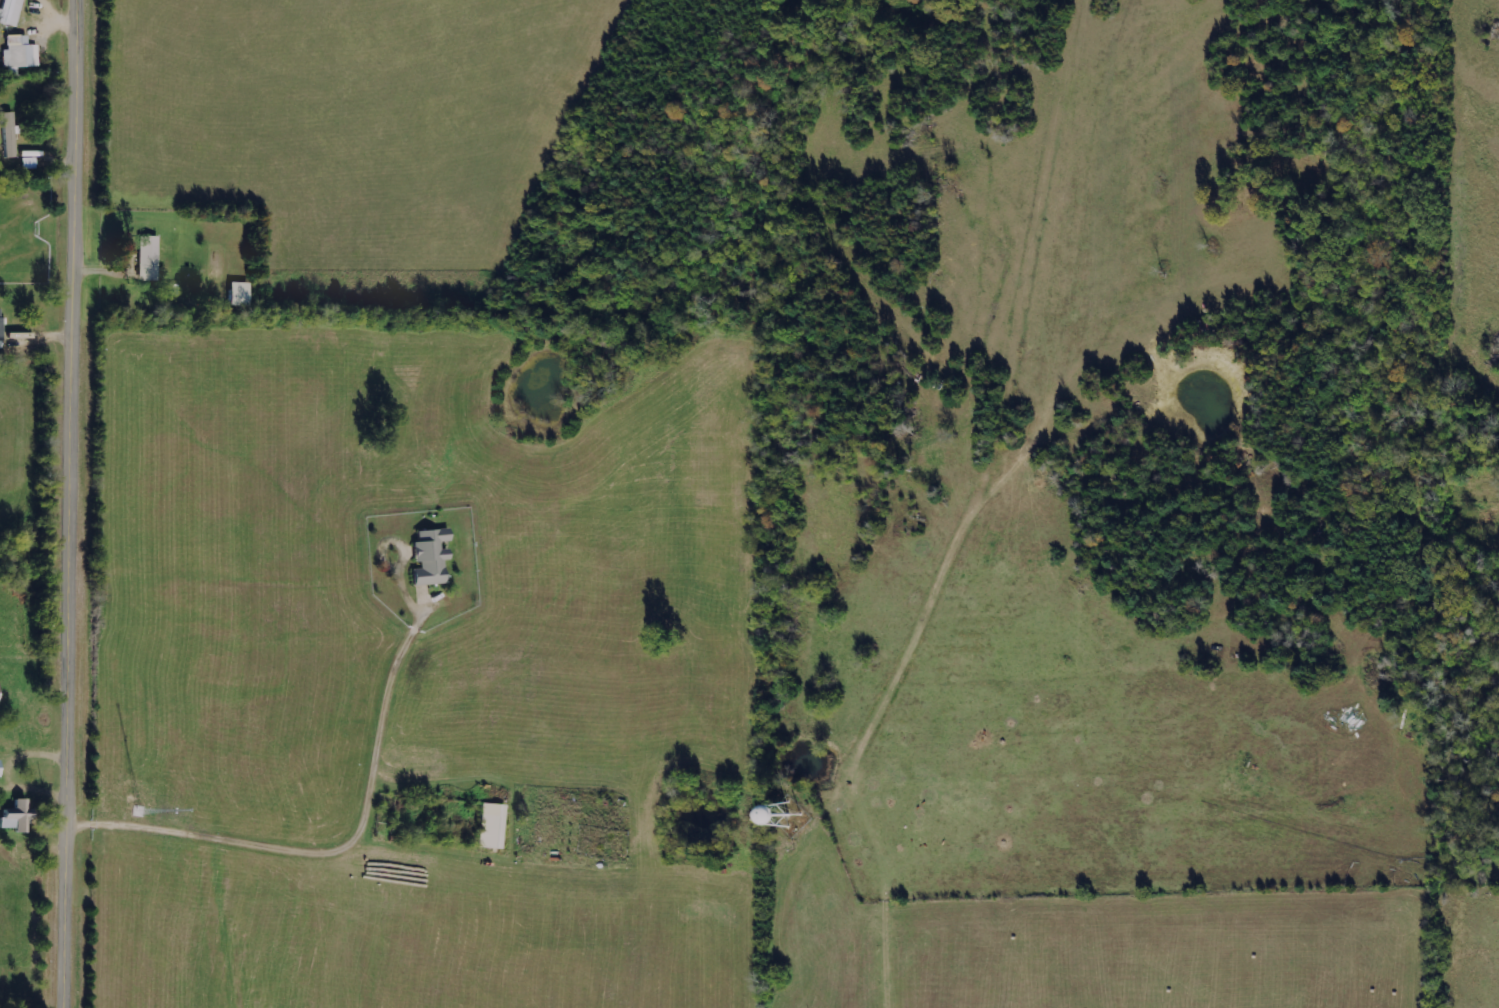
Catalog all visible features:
building: (11, 12)
building: (20, 52)
building: (9, 134)
building: (149, 258)
building: (239, 294)
building: (1, 329)
road: (64, 503)
building: (430, 557)
building: (0, 768)
building: (17, 817)
building: (492, 825)

